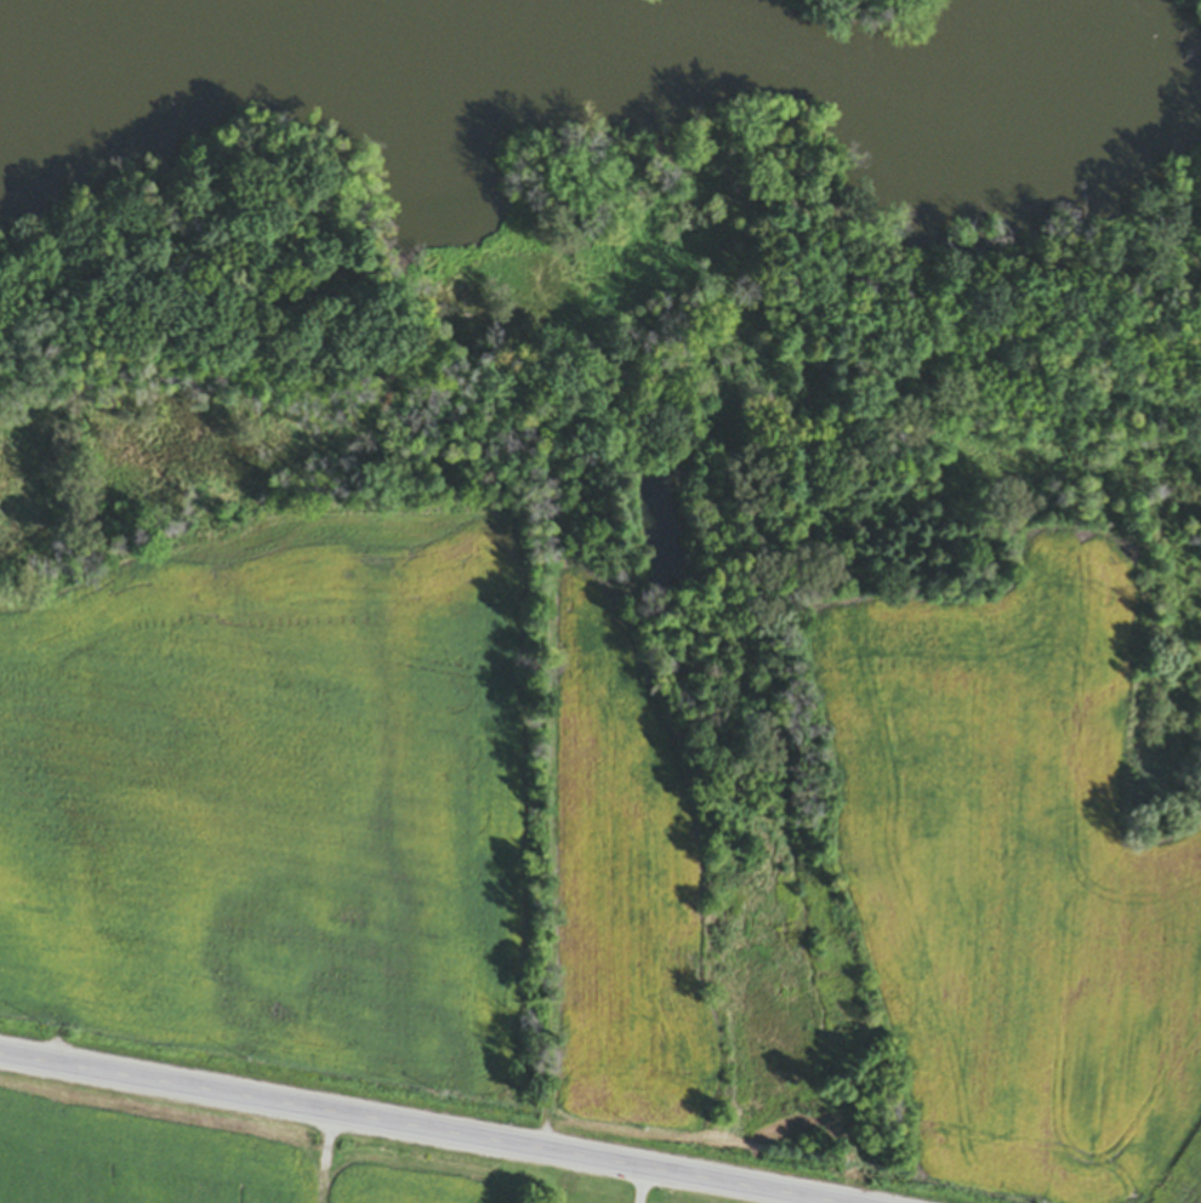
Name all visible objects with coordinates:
river: (571, 59)
road: (415, 1128)
road: (634, 1185)

